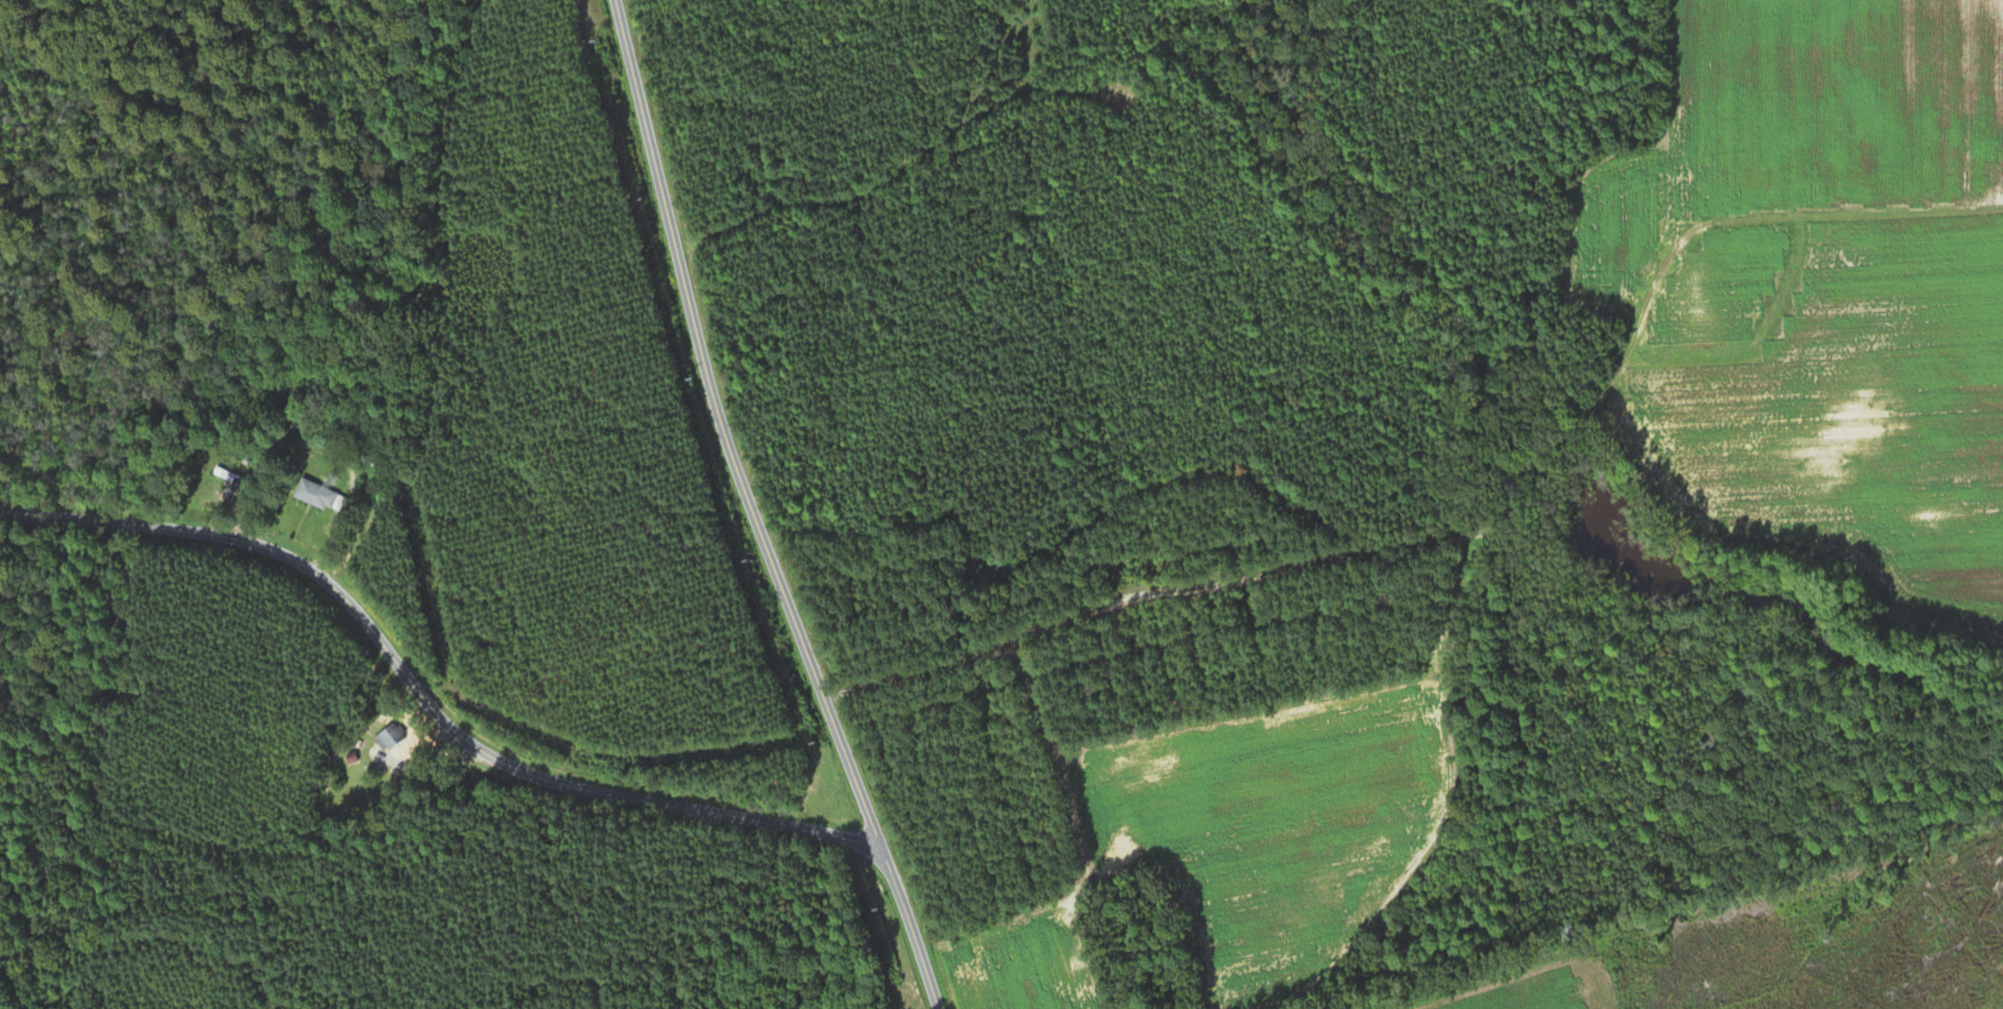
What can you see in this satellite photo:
building: (321, 498)
road: (753, 512)
road: (1295, 513)
road: (423, 703)
building: (389, 738)

